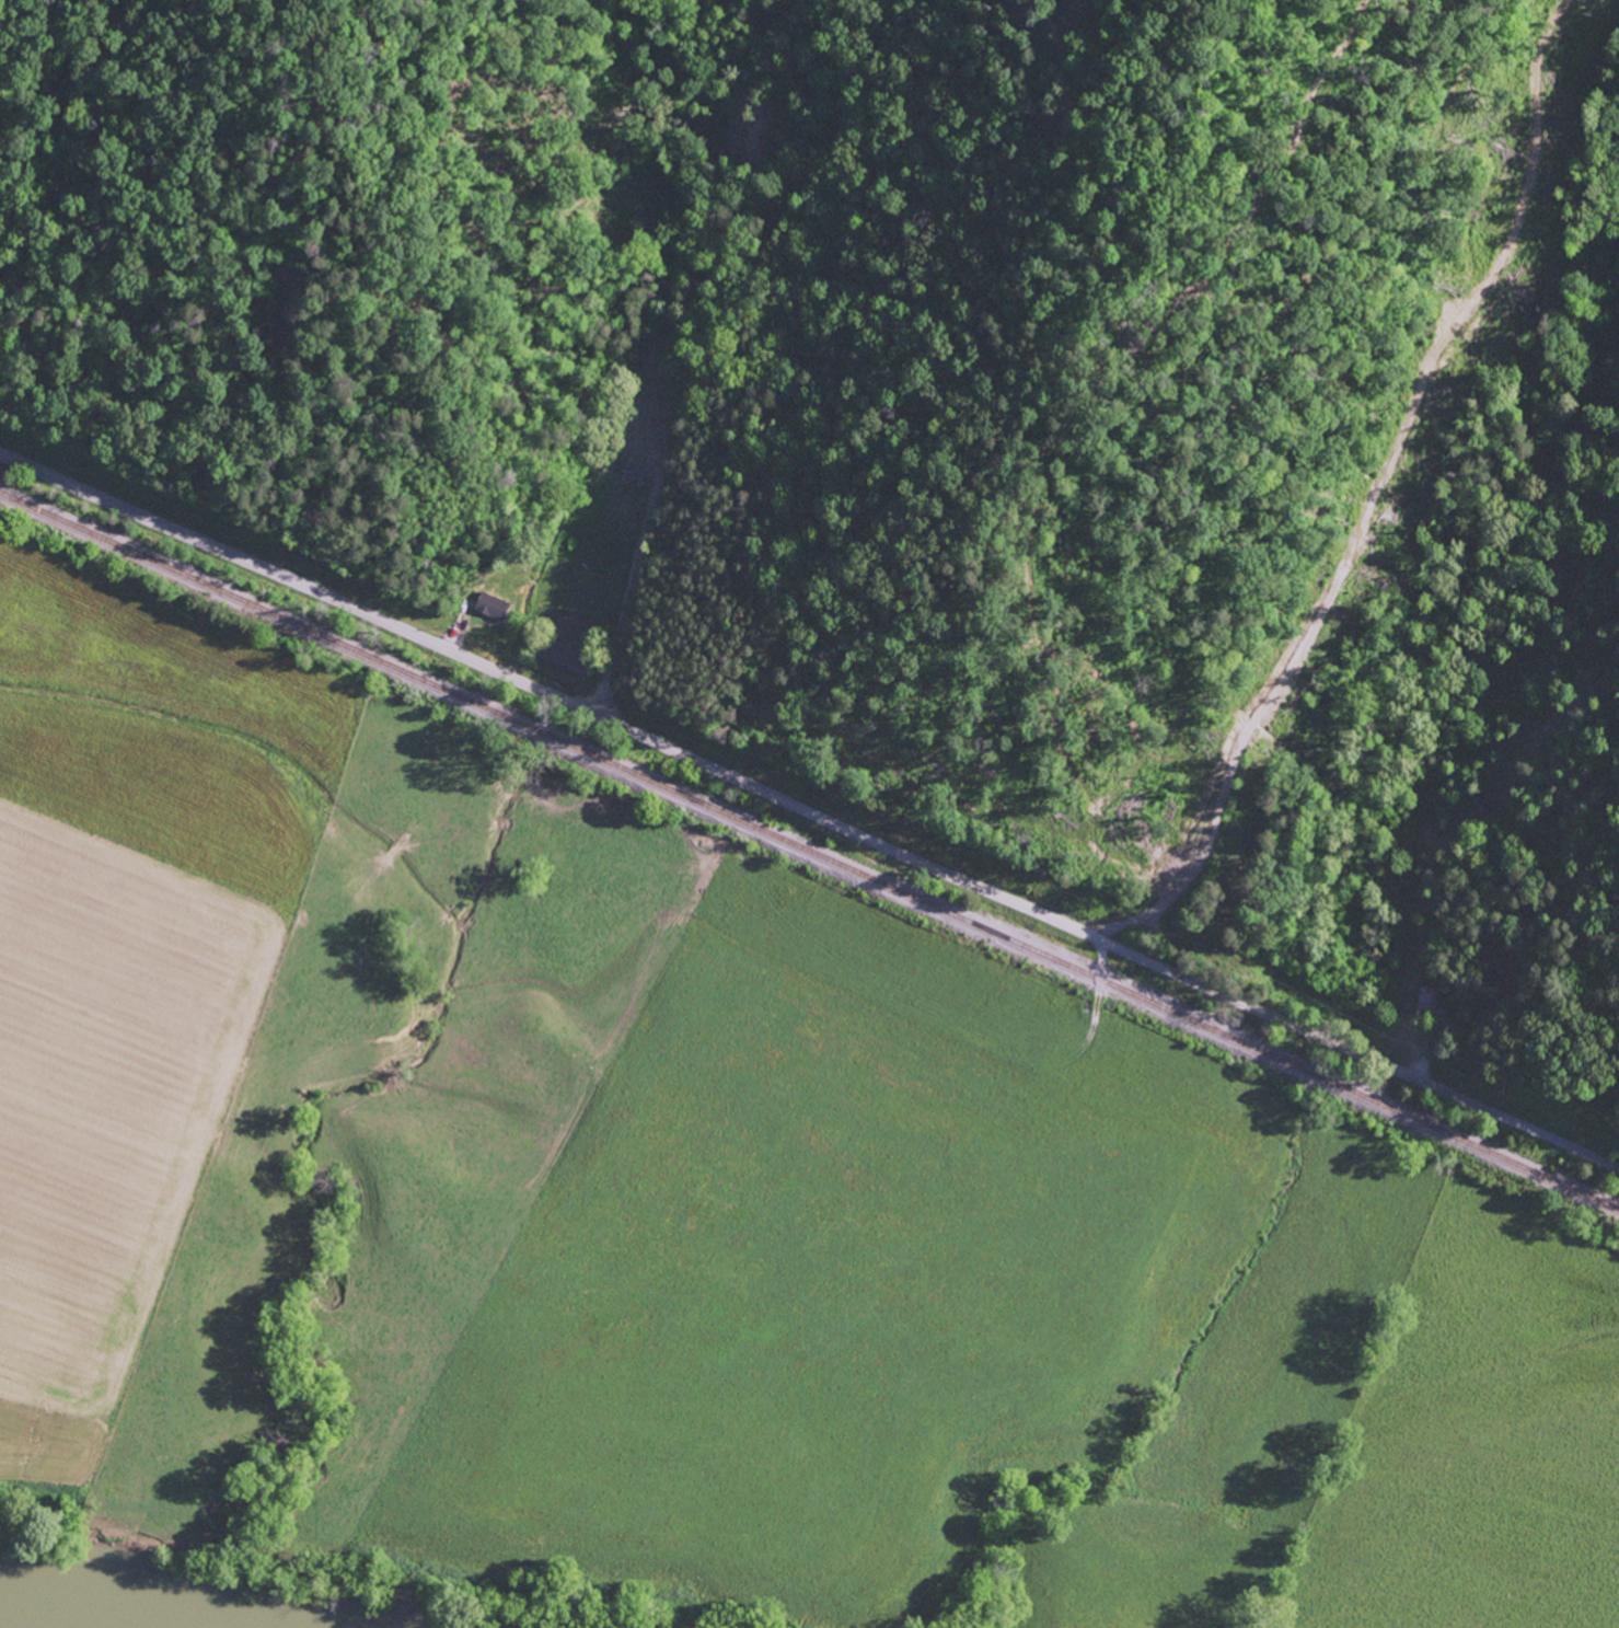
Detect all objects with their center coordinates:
building: (497, 607)
road: (791, 804)
railway: (809, 850)
road: (1601, 1163)
river: (21, 1624)

